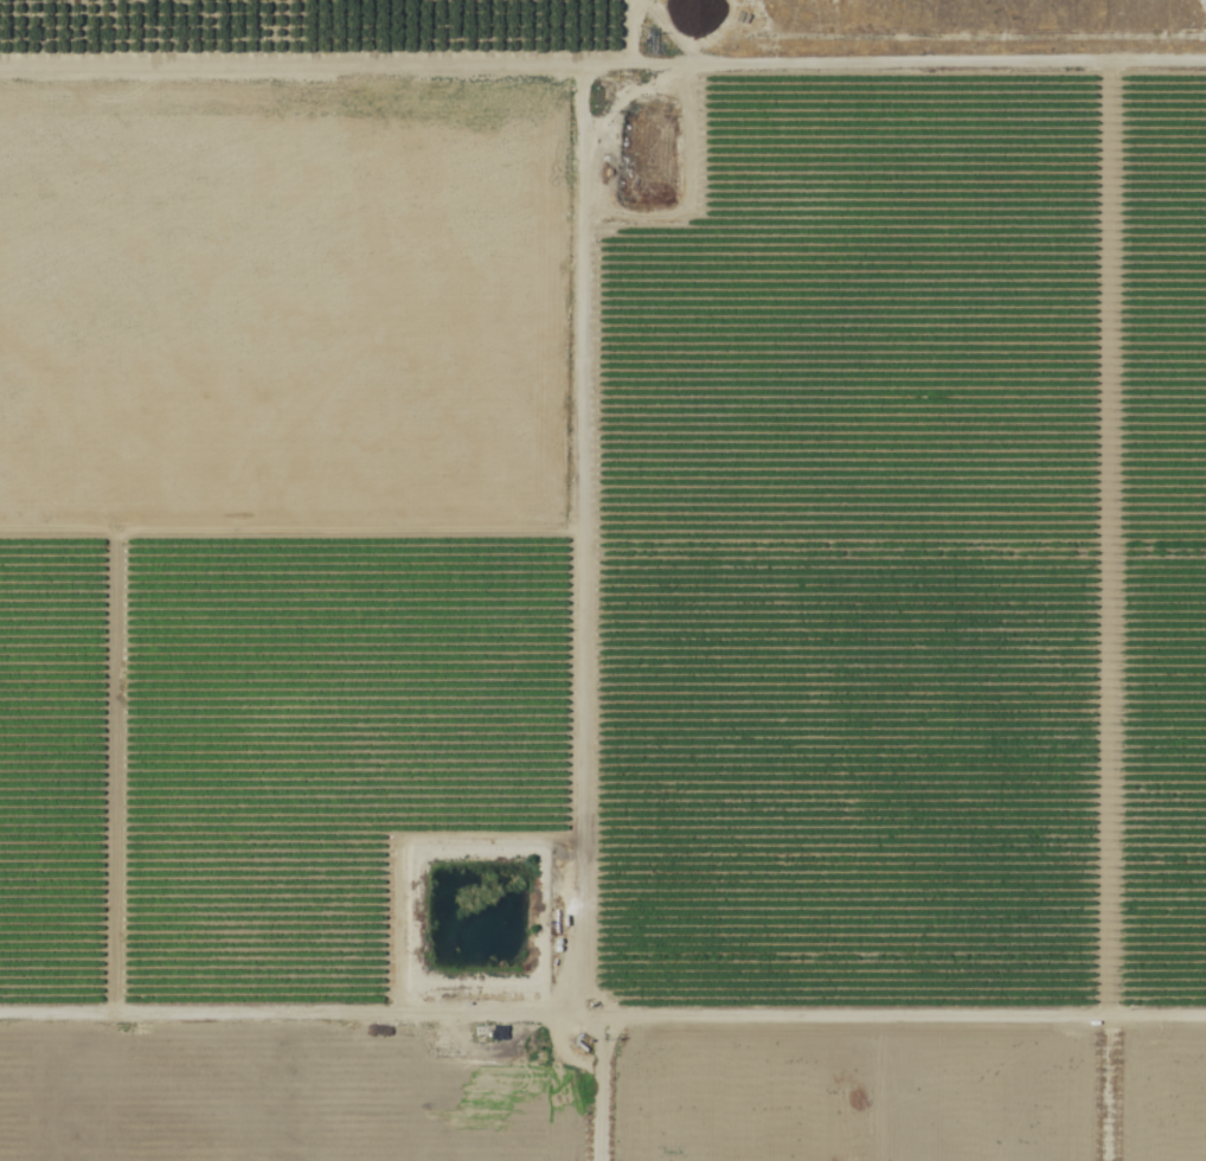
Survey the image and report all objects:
road: (616, 33)
road: (602, 66)
road: (1103, 543)
road: (578, 614)
road: (109, 781)
road: (602, 1019)

